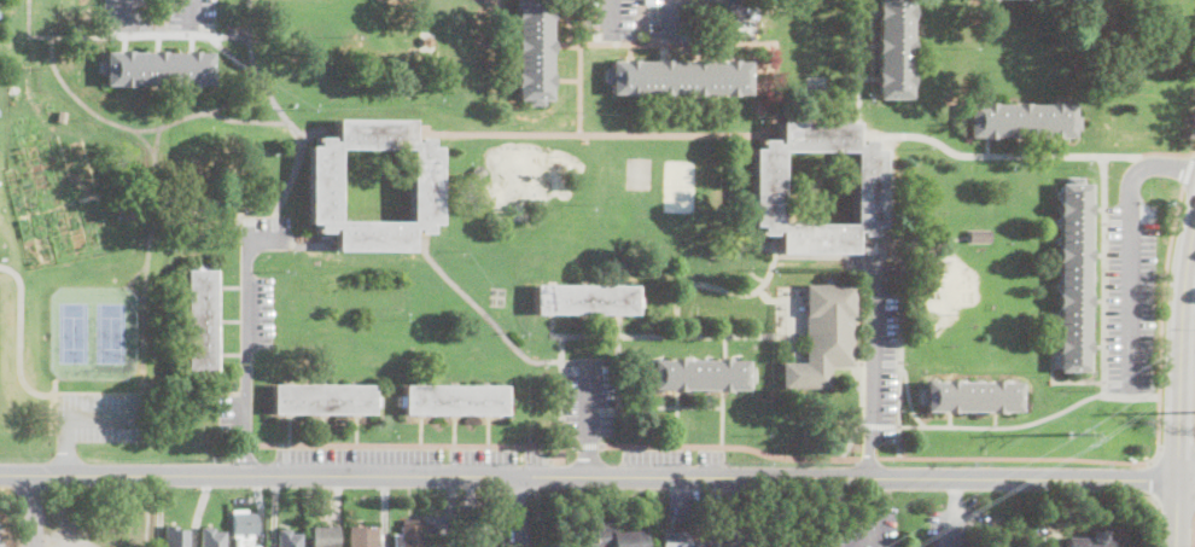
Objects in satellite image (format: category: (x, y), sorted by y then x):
parking lot: (129, 14)
road: (130, 14)
parking lot: (191, 14)
road: (190, 16)
road: (671, 18)
road: (610, 19)
road: (733, 19)
building: (535, 48)
building: (894, 48)
building: (158, 68)
building: (680, 77)
building: (60, 115)
building: (1022, 118)
road: (934, 139)
road: (1170, 152)
road: (1188, 168)
building: (478, 171)
building: (139, 176)
building: (322, 185)
building: (766, 187)
building: (129, 209)
building: (977, 238)
road: (1131, 250)
parking lot: (258, 277)
building: (1073, 277)
road: (717, 286)
road: (768, 297)
building: (585, 299)
parking lot: (1132, 299)
road: (1103, 302)
road: (1161, 312)
road: (486, 315)
road: (552, 316)
road: (619, 318)
road: (782, 318)
building: (200, 321)
road: (552, 330)
road: (619, 330)
park: (92, 331)
road: (668, 334)
building: (823, 336)
road: (246, 337)
road: (725, 349)
road: (21, 350)
road: (1181, 350)
parking lot: (879, 353)
road: (870, 367)
road: (619, 369)
road: (899, 372)
building: (699, 374)
road: (561, 389)
road: (908, 396)
building: (973, 396)
parking lot: (589, 397)
building: (323, 398)
building: (454, 400)
road: (84, 403)
road: (670, 406)
road: (53, 413)
road: (76, 415)
parking lot: (101, 415)
road: (722, 417)
road: (590, 418)
road: (677, 418)
road: (1004, 425)
power tower: (1079, 432)
road: (588, 443)
road: (415, 444)
road: (729, 444)
road: (1154, 453)
parking lot: (409, 455)
building: (554, 455)
parking lot: (674, 456)
road: (868, 456)
road: (1012, 456)
road: (589, 476)
road: (1153, 478)
road: (1187, 481)
road: (878, 491)
road: (27, 510)
road: (146, 511)
road: (520, 511)
road: (1177, 513)
road: (1155, 518)
building: (244, 528)
road: (1191, 528)
parking lot: (868, 529)
road: (876, 533)
building: (409, 534)
building: (174, 536)
building: (323, 536)
building: (363, 536)
building: (613, 536)
building: (210, 537)
building: (286, 537)
building: (707, 539)
building: (1091, 540)
road: (863, 545)
road: (1053, 546)

